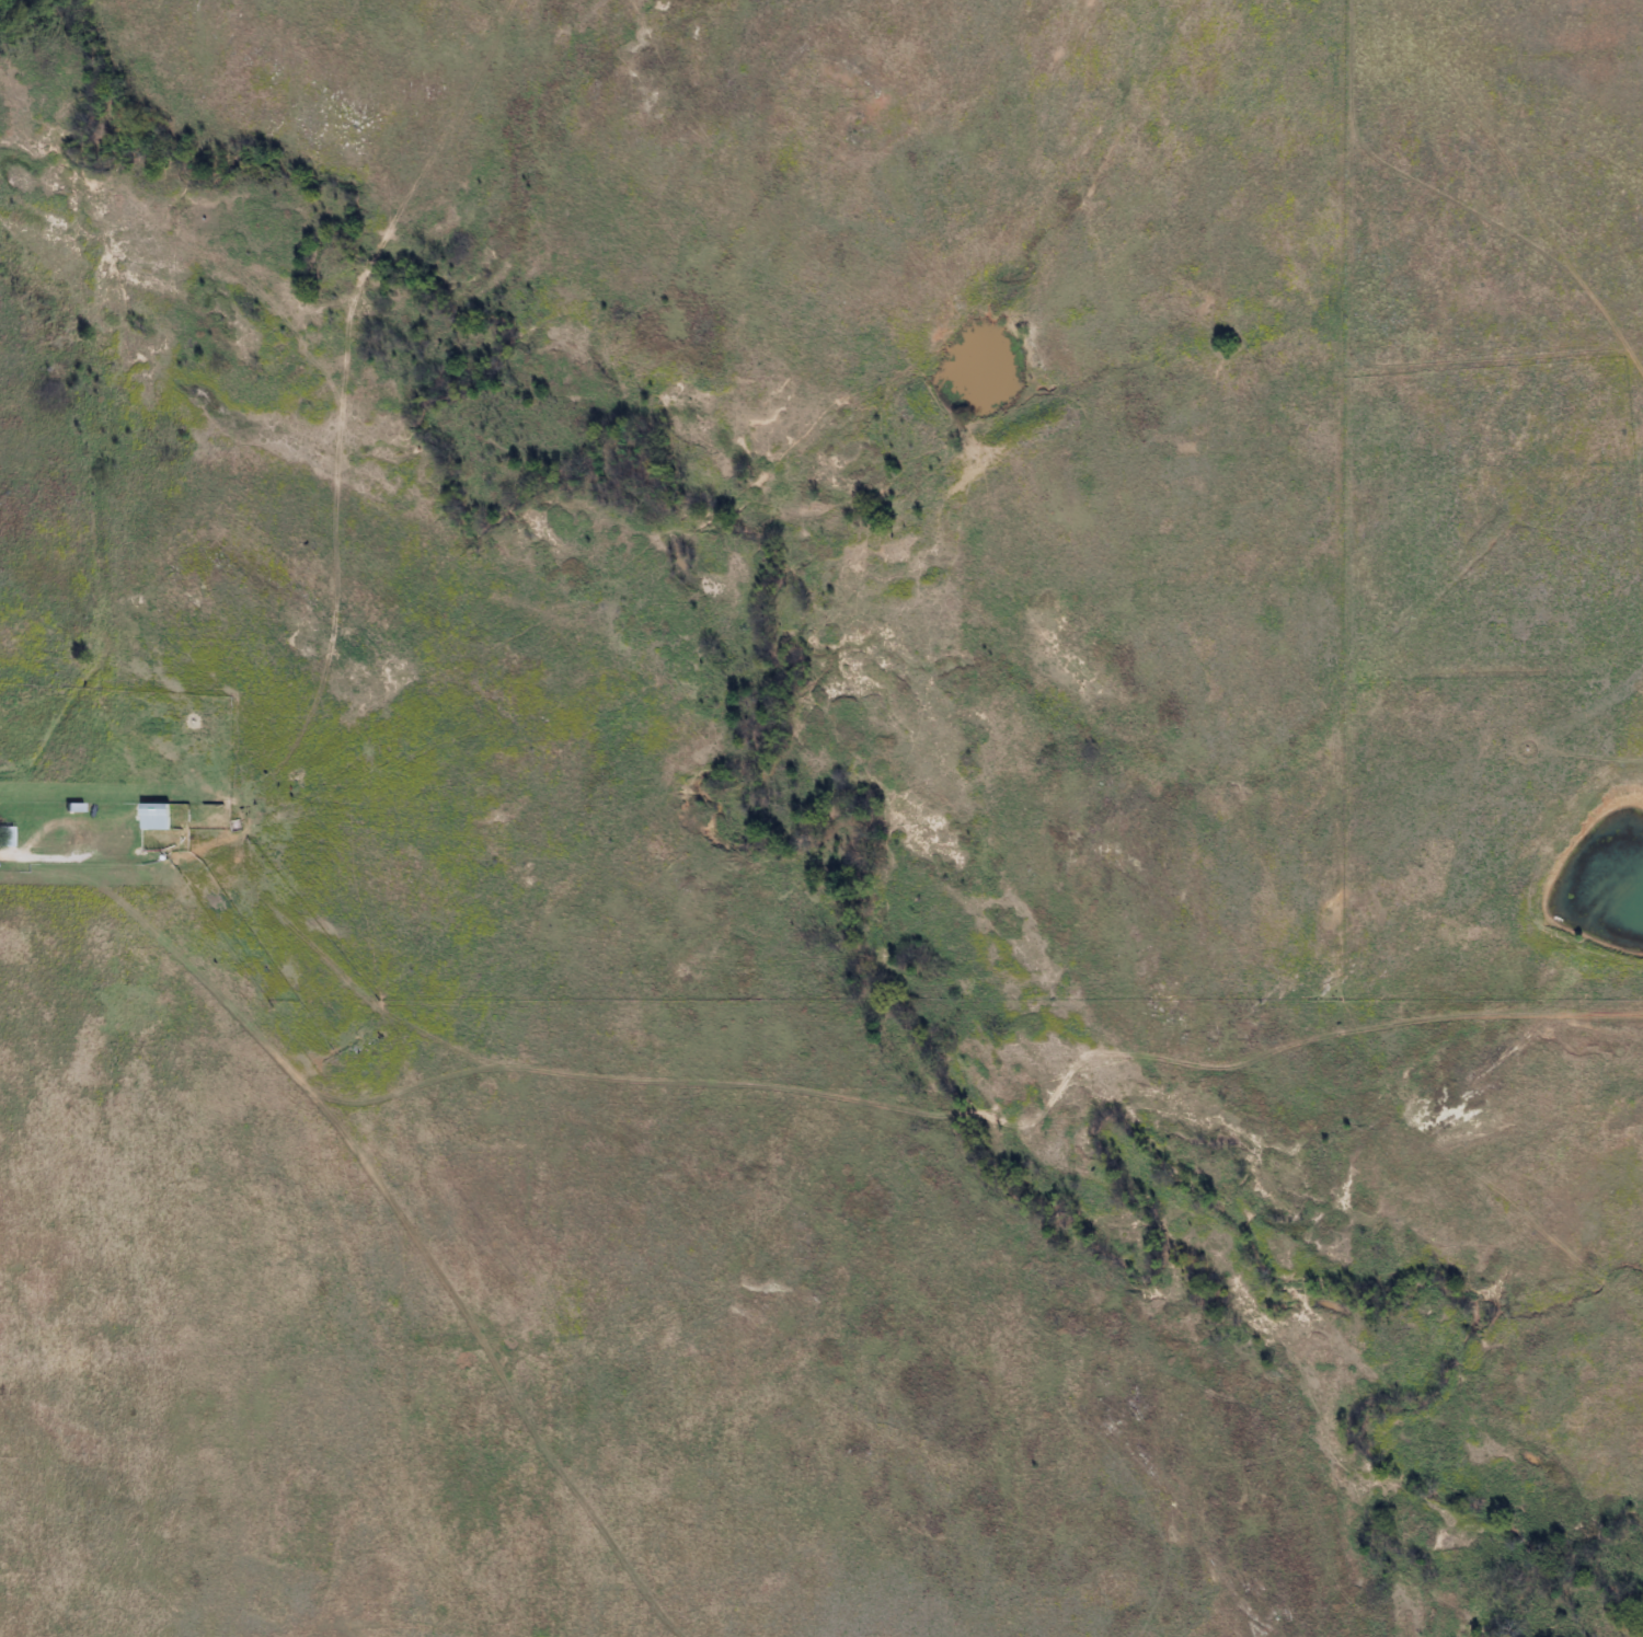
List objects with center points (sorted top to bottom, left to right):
building: (152, 817)
building: (3, 837)

